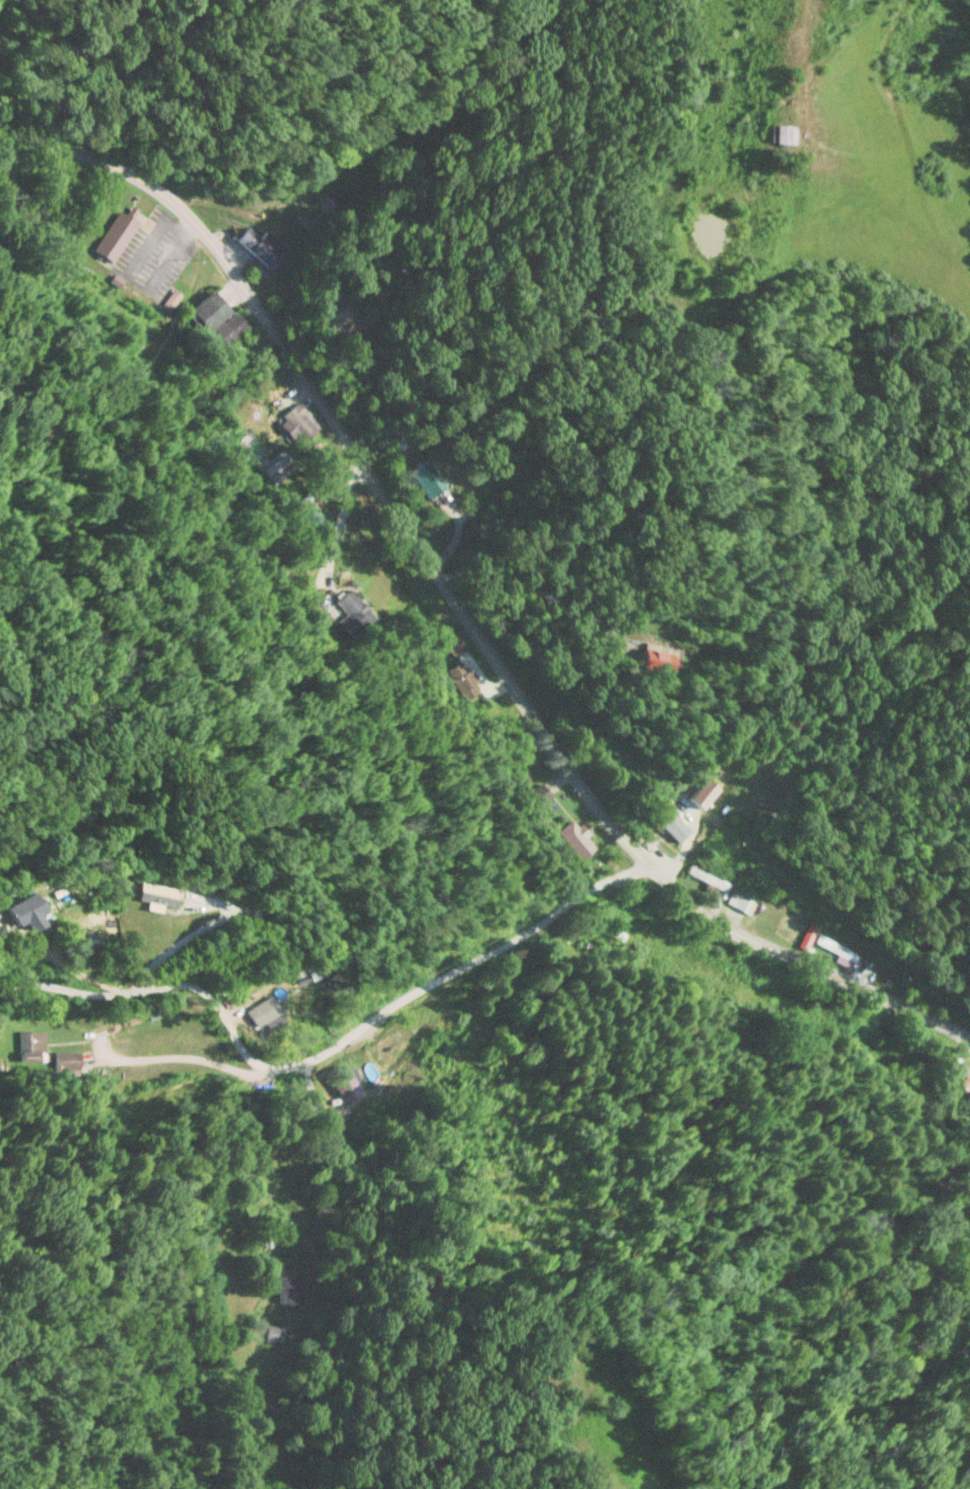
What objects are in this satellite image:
building: (782, 134)
building: (115, 237)
building: (262, 248)
building: (206, 313)
building: (231, 329)
building: (356, 344)
building: (302, 423)
building: (428, 480)
building: (308, 502)
road: (544, 595)
road: (458, 605)
building: (355, 611)
building: (455, 644)
building: (658, 662)
building: (464, 681)
building: (702, 794)
building: (538, 796)
building: (672, 826)
building: (574, 838)
building: (708, 879)
building: (158, 895)
building: (743, 900)
building: (24, 911)
building: (609, 931)
building: (837, 949)
road: (320, 1024)
building: (413, 1032)
building: (33, 1046)
building: (68, 1061)
building: (967, 1106)
road: (304, 1178)
building: (289, 1291)

